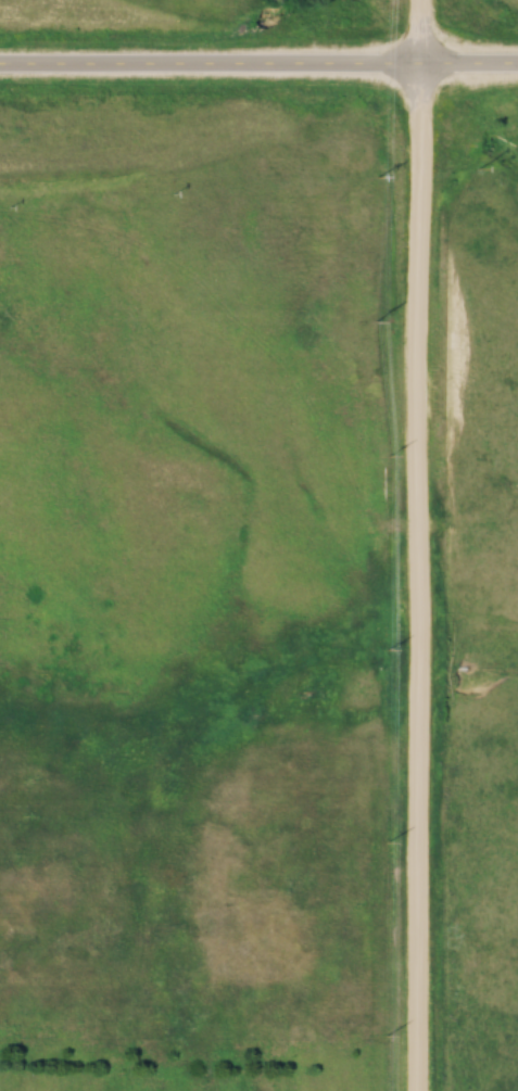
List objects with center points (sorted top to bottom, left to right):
road: (258, 69)
road: (418, 545)

